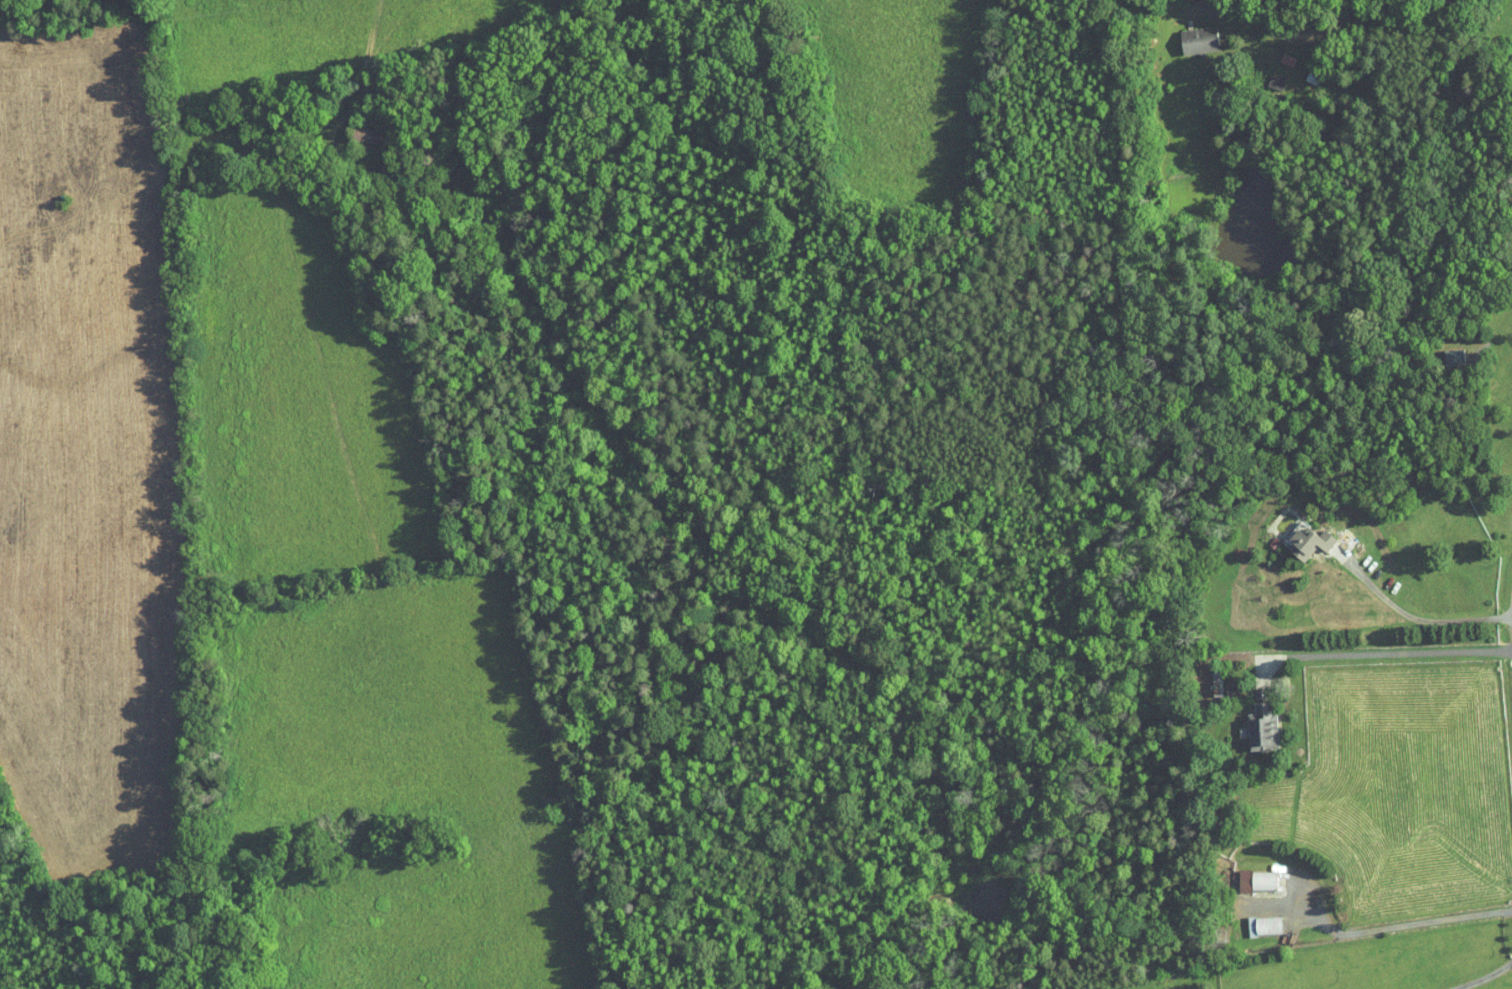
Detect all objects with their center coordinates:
road: (1296, 14)
building: (1186, 33)
building: (1264, 76)
building: (1441, 350)
building: (1294, 535)
road: (1508, 602)
road: (1409, 614)
road: (1386, 652)
building: (1250, 721)
building: (1245, 874)
road: (1401, 924)
road: (1483, 977)

